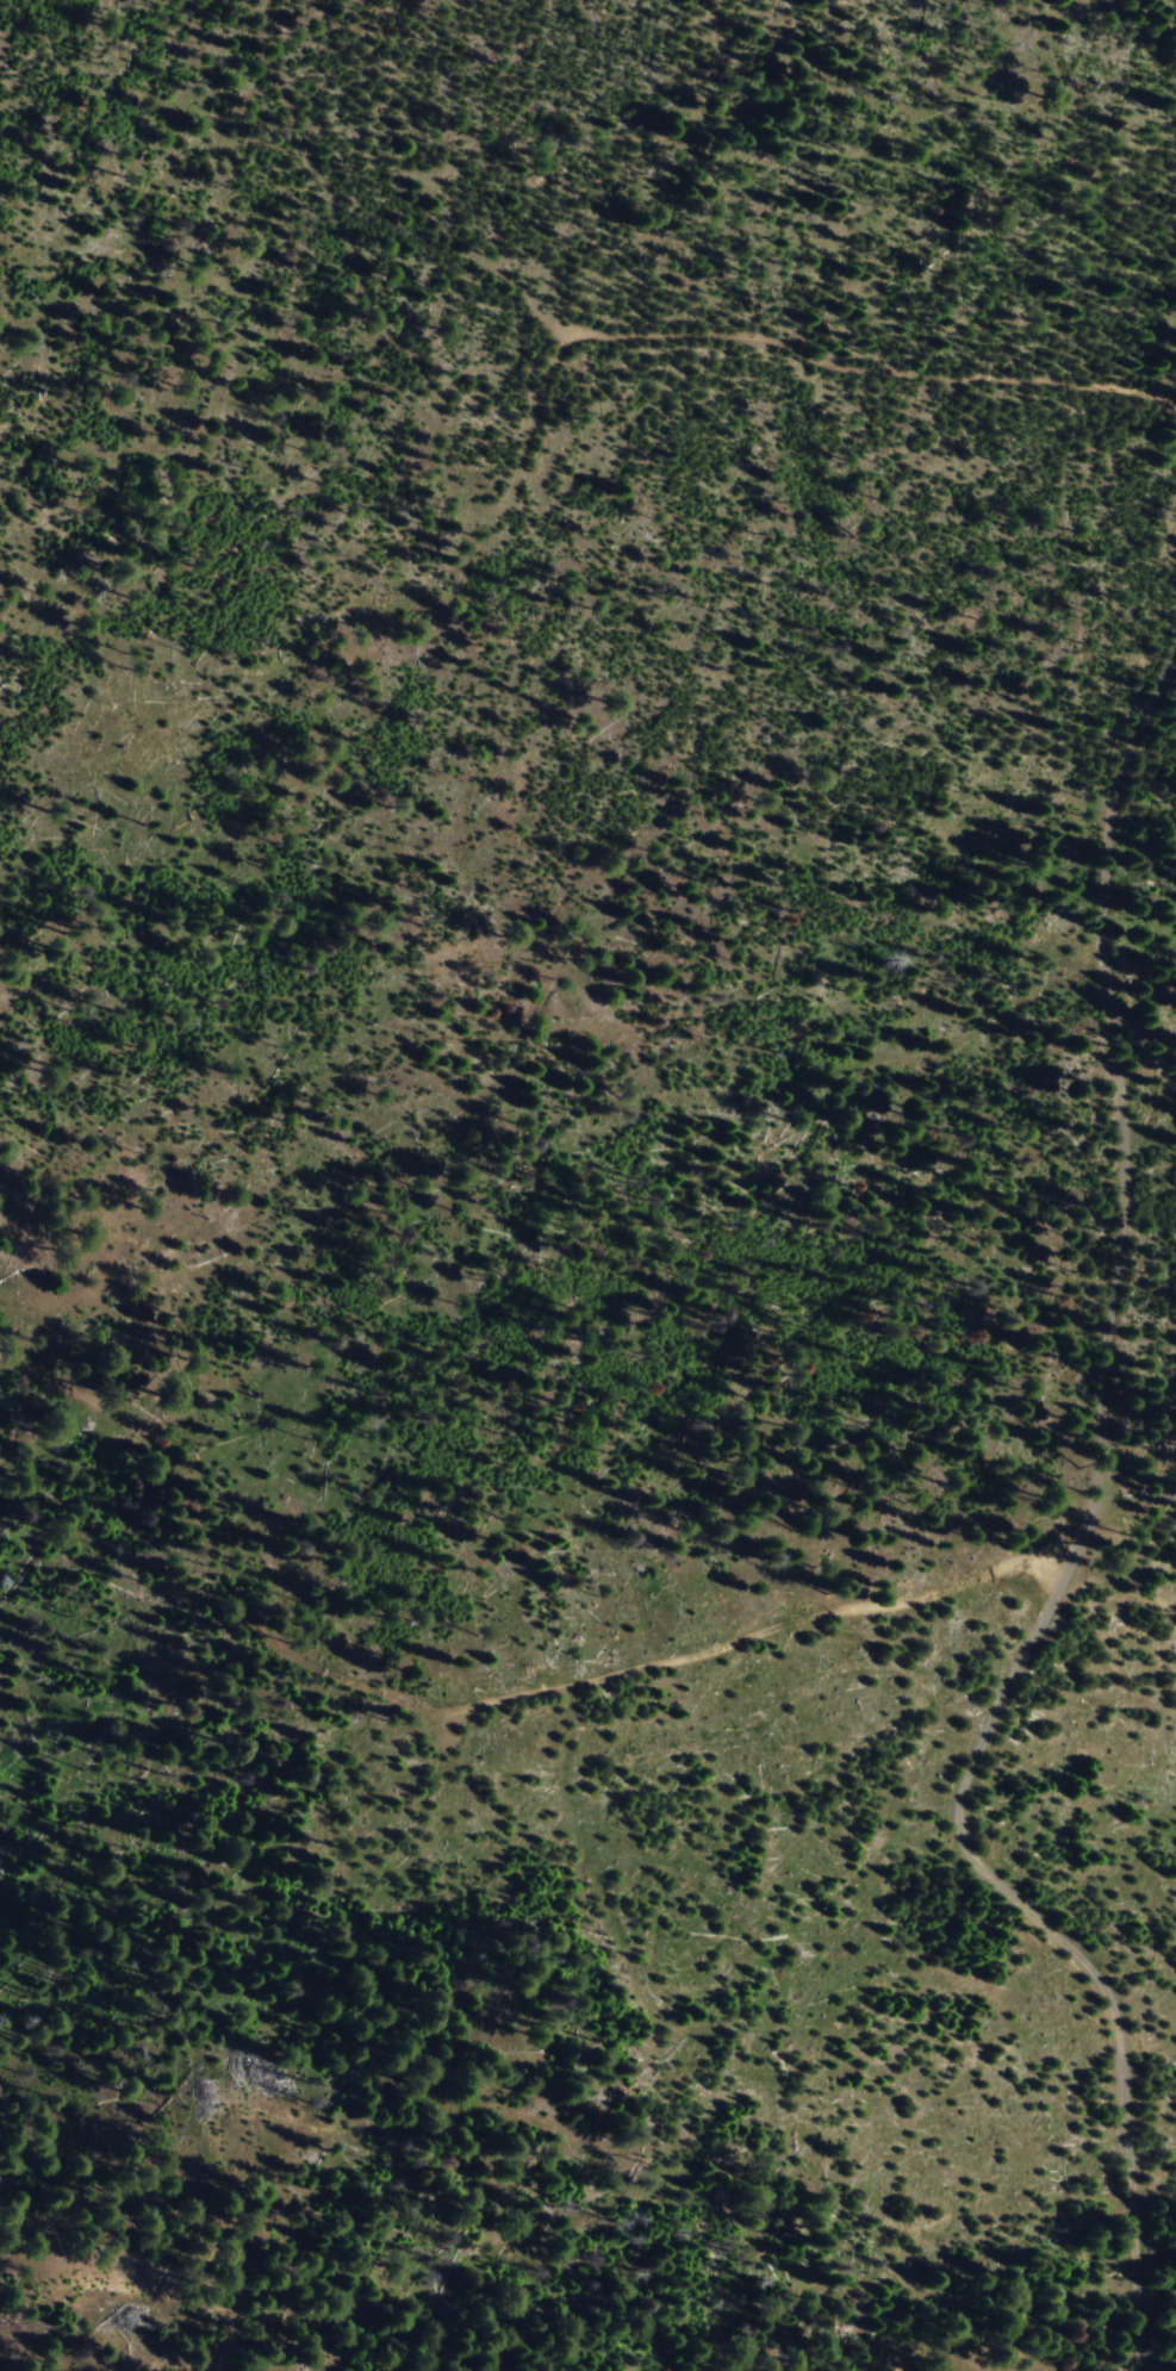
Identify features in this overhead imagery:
road: (872, 375)
road: (1068, 1544)
road: (460, 1710)

